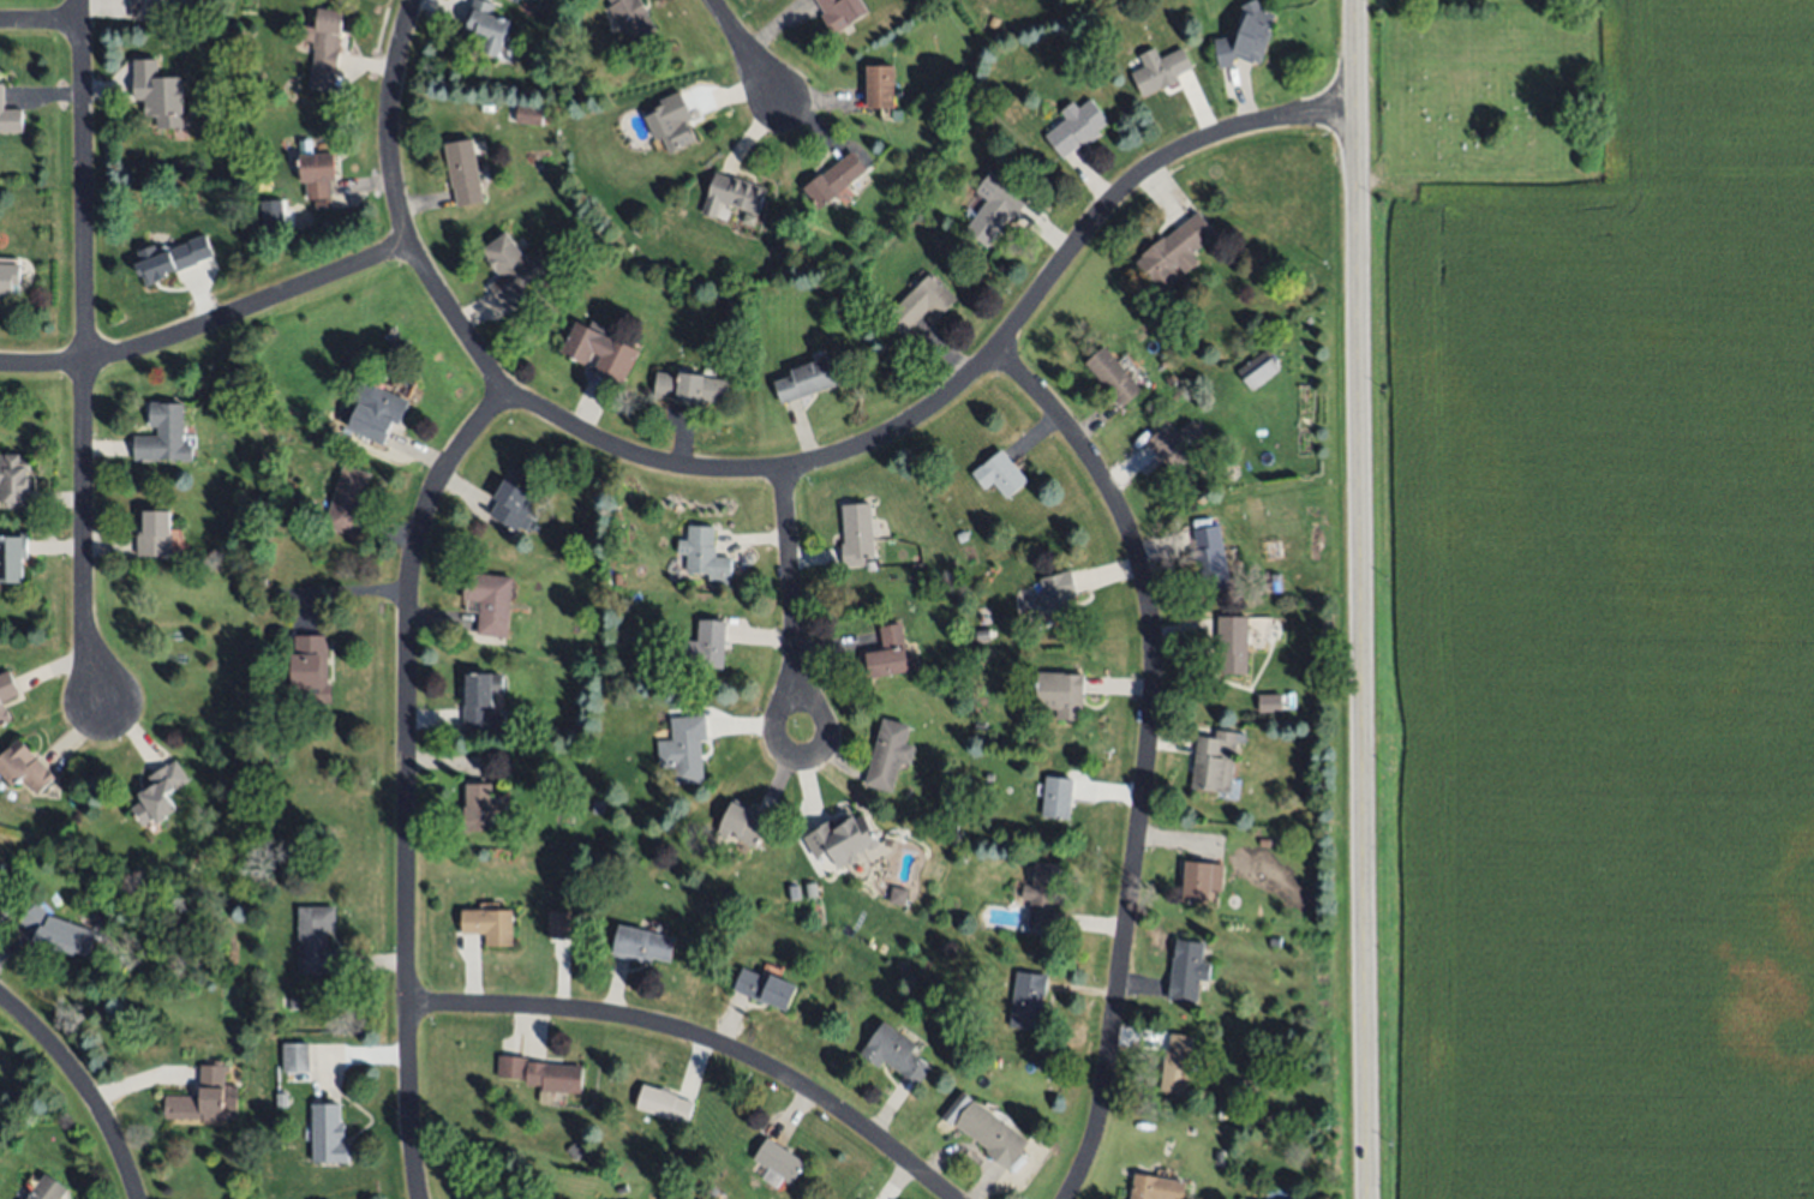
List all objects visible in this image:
building: (514, 0)
crop: (1431, 0)
building: (149, 7)
road: (79, 11)
building: (840, 12)
building: (631, 17)
road: (40, 24)
building: (485, 28)
building: (1246, 36)
building: (323, 44)
road: (746, 48)
building: (1160, 70)
building: (880, 85)
building: (161, 91)
park: (1485, 92)
building: (1, 98)
building: (528, 114)
building: (671, 122)
building: (1076, 126)
building: (553, 167)
building: (463, 170)
building: (317, 173)
building: (834, 179)
building: (735, 196)
building: (264, 198)
building: (994, 208)
building: (636, 228)
building: (1174, 252)
building: (170, 262)
building: (511, 270)
building: (563, 270)
building: (8, 277)
building: (920, 302)
road: (209, 322)
building: (600, 350)
road: (83, 362)
building: (1257, 371)
building: (1114, 376)
building: (1172, 379)
building: (806, 380)
building: (690, 386)
building: (1204, 400)
building: (376, 414)
building: (163, 434)
building: (1178, 444)
road: (774, 468)
building: (999, 473)
building: (14, 480)
building: (348, 499)
building: (511, 504)
building: (155, 533)
building: (857, 534)
building: (962, 534)
building: (704, 553)
building: (12, 557)
building: (1209, 558)
building: (235, 565)
building: (258, 582)
building: (1274, 582)
building: (1055, 595)
road: (1360, 599)
building: (490, 601)
road: (792, 604)
crop: (1609, 642)
building: (1232, 643)
building: (707, 645)
building: (891, 653)
building: (310, 671)
building: (6, 685)
building: (1062, 695)
building: (479, 701)
building: (2, 715)
building: (684, 747)
building: (890, 754)
road: (1147, 754)
building: (1213, 762)
building: (23, 767)
road: (405, 779)
building: (158, 792)
building: (1059, 796)
building: (478, 807)
building: (598, 807)
building: (564, 820)
building: (743, 823)
building: (840, 838)
building: (1264, 841)
building: (778, 874)
building: (573, 879)
building: (1201, 880)
building: (809, 891)
building: (1042, 894)
building: (489, 924)
building: (558, 925)
building: (56, 931)
building: (316, 940)
building: (1274, 941)
building: (642, 945)
building: (1189, 969)
building: (765, 988)
building: (1028, 999)
building: (293, 1002)
road: (702, 1038)
building: (894, 1053)
building: (295, 1056)
building: (1177, 1063)
building: (541, 1073)
road: (78, 1080)
building: (1245, 1085)
building: (204, 1099)
building: (281, 1099)
building: (664, 1103)
building: (327, 1134)
building: (992, 1134)
building: (574, 1150)
building: (778, 1161)
building: (1221, 1168)
building: (613, 1181)
building: (1156, 1187)
building: (46, 1189)
road: (132, 1189)
building: (621, 1189)
building: (663, 1198)

